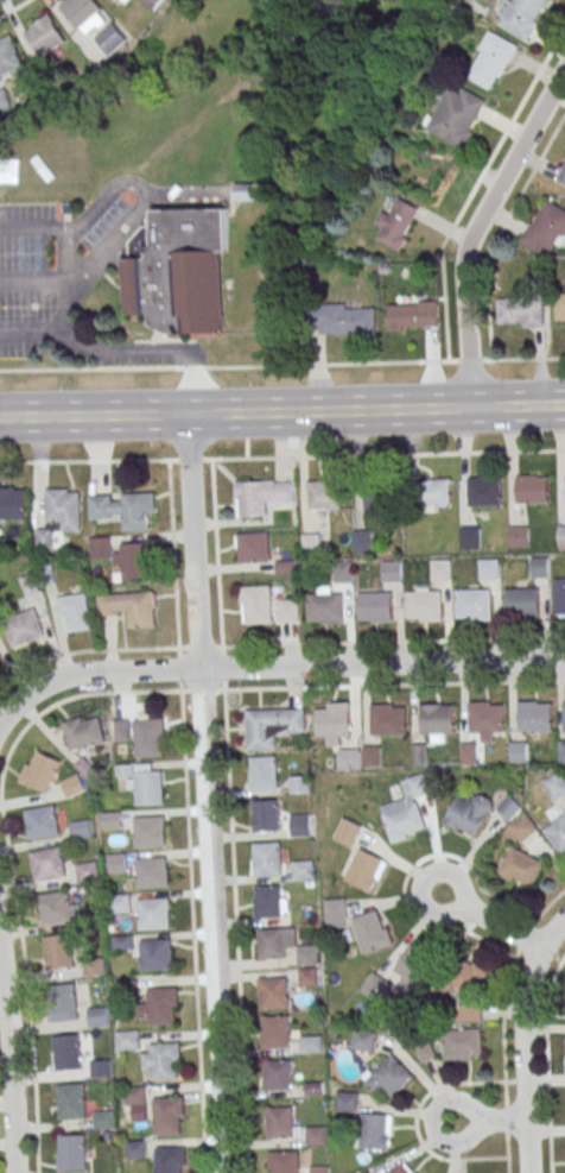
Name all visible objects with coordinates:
building: (113, 0)
building: (121, 2)
building: (153, 2)
road: (13, 7)
building: (84, 14)
building: (522, 17)
building: (42, 38)
building: (112, 38)
building: (8, 56)
building: (491, 61)
building: (4, 100)
building: (456, 114)
building: (561, 175)
building: (246, 190)
road: (106, 197)
building: (396, 223)
road: (475, 226)
building: (545, 228)
road: (57, 231)
building: (178, 271)
road: (33, 282)
road: (68, 291)
parking lot: (58, 298)
road: (69, 304)
building: (560, 305)
building: (521, 311)
building: (413, 315)
building: (345, 320)
road: (34, 338)
road: (506, 359)
road: (224, 367)
road: (281, 410)
road: (282, 458)
building: (532, 488)
building: (484, 491)
building: (436, 492)
building: (323, 494)
building: (261, 497)
building: (379, 498)
building: (12, 503)
building: (123, 509)
building: (59, 515)
building: (561, 535)
building: (519, 536)
building: (363, 541)
building: (311, 543)
building: (253, 547)
building: (100, 548)
road: (216, 553)
building: (133, 560)
building: (540, 567)
building: (440, 569)
building: (489, 569)
building: (391, 570)
building: (343, 572)
building: (30, 585)
building: (559, 597)
building: (522, 601)
building: (472, 604)
building: (255, 605)
building: (424, 605)
building: (324, 606)
building: (374, 606)
building: (129, 607)
building: (287, 610)
building: (74, 612)
building: (24, 628)
road: (393, 642)
road: (177, 648)
road: (83, 650)
building: (0, 652)
road: (382, 663)
road: (93, 671)
road: (394, 683)
building: (535, 715)
building: (564, 715)
building: (484, 717)
building: (437, 719)
building: (387, 720)
building: (332, 721)
building: (272, 725)
building: (83, 732)
building: (148, 737)
building: (561, 750)
building: (519, 751)
building: (469, 752)
building: (419, 753)
building: (372, 756)
building: (349, 758)
building: (39, 770)
building: (262, 772)
building: (71, 784)
building: (298, 784)
building: (147, 786)
building: (556, 786)
road: (208, 792)
building: (509, 808)
building: (407, 809)
building: (266, 814)
building: (470, 814)
building: (110, 819)
building: (42, 821)
building: (300, 825)
building: (80, 828)
building: (521, 828)
building: (150, 831)
building: (348, 832)
building: (558, 834)
building: (266, 858)
building: (116, 863)
building: (47, 864)
building: (520, 866)
building: (303, 870)
building: (366, 870)
building: (87, 872)
building: (151, 872)
building: (269, 901)
building: (120, 903)
building: (58, 908)
building: (153, 913)
building: (336, 913)
road: (493, 922)
road: (236, 931)
building: (372, 931)
road: (193, 932)
building: (285, 946)
building: (56, 952)
building: (155, 954)
building: (413, 966)
building: (93, 967)
building: (474, 973)
building: (309, 976)
building: (375, 988)
building: (273, 992)
building: (62, 1002)
building: (161, 1005)
building: (96, 1016)
building: (275, 1032)
road: (523, 1039)
building: (127, 1040)
building: (363, 1040)
building: (463, 1045)
building: (65, 1052)
building: (426, 1052)
road: (11, 1059)
building: (164, 1059)
building: (100, 1068)
building: (278, 1074)
building: (389, 1076)
building: (134, 1095)
building: (69, 1101)
building: (347, 1101)
building: (167, 1114)
building: (102, 1118)
building: (282, 1122)
road: (493, 1122)
building: (375, 1131)
building: (317, 1135)
building: (135, 1148)
building: (70, 1154)
building: (170, 1160)
building: (284, 1161)
building: (402, 1168)
building: (318, 1169)
building: (368, 1172)

